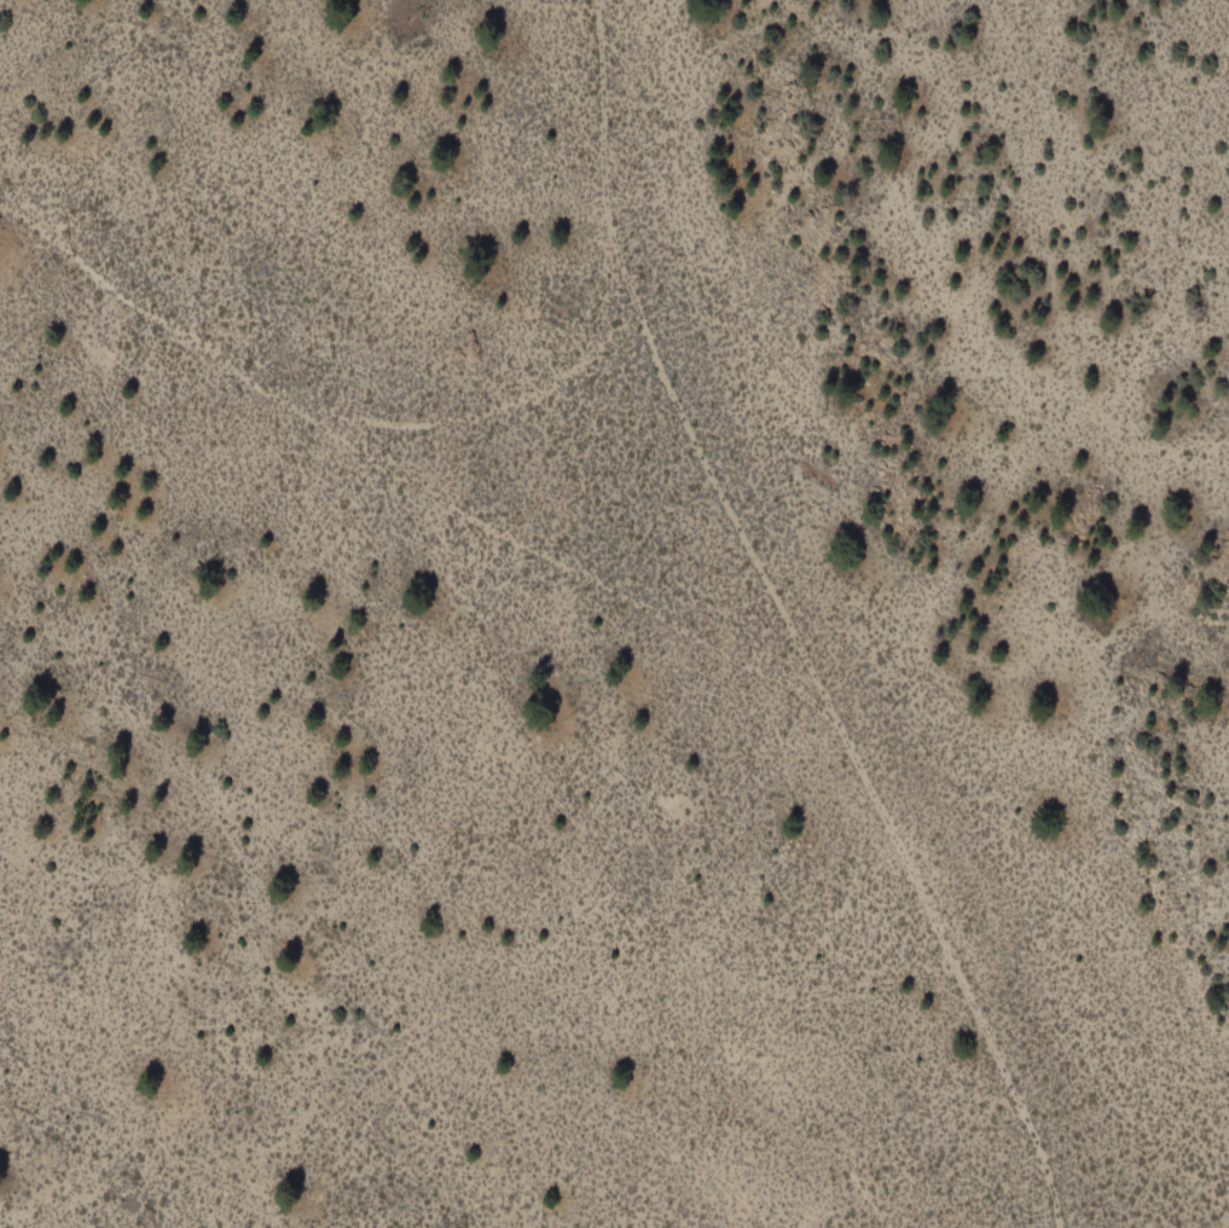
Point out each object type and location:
road: (400, 474)
road: (788, 622)

